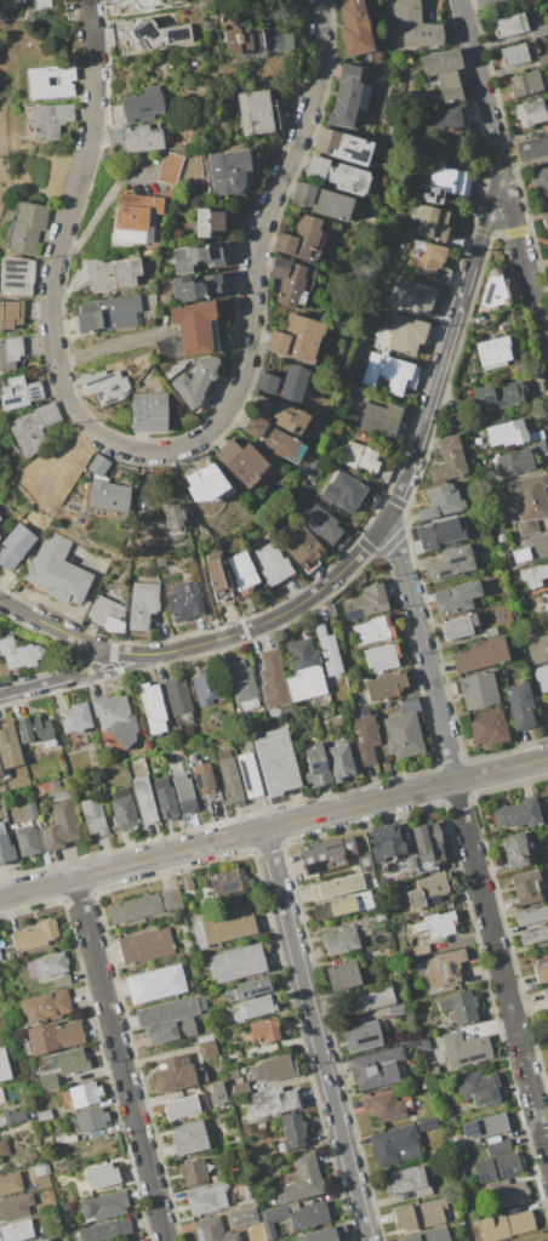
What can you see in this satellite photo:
building: (12, 1)
building: (41, 4)
building: (145, 5)
building: (228, 15)
building: (413, 25)
building: (510, 27)
building: (355, 28)
building: (540, 30)
building: (149, 35)
building: (281, 41)
building: (244, 42)
building: (519, 53)
building: (543, 58)
building: (445, 73)
building: (38, 81)
building: (527, 82)
building: (346, 97)
building: (142, 107)
building: (257, 113)
building: (531, 113)
building: (115, 115)
building: (438, 119)
building: (51, 120)
building: (114, 140)
building: (141, 140)
building: (343, 146)
road: (523, 150)
building: (170, 169)
building: (228, 172)
building: (338, 175)
road: (503, 177)
building: (450, 180)
building: (540, 181)
building: (430, 193)
building: (324, 201)
road: (97, 210)
building: (136, 217)
building: (546, 221)
building: (430, 222)
building: (209, 223)
building: (27, 228)
road: (500, 235)
building: (301, 238)
building: (204, 256)
building: (433, 263)
building: (112, 274)
building: (16, 275)
building: (295, 281)
building: (200, 288)
building: (496, 290)
building: (415, 298)
building: (11, 314)
building: (105, 314)
building: (190, 331)
building: (404, 334)
building: (297, 338)
road: (107, 347)
building: (16, 351)
building: (493, 353)
building: (520, 369)
building: (387, 371)
building: (196, 382)
building: (284, 383)
building: (104, 386)
building: (19, 393)
building: (500, 395)
building: (149, 412)
building: (282, 415)
building: (383, 420)
building: (456, 421)
building: (34, 427)
building: (508, 433)
building: (273, 438)
road: (153, 451)
building: (359, 457)
building: (449, 460)
building: (244, 462)
building: (515, 462)
building: (98, 466)
building: (204, 483)
building: (350, 493)
building: (108, 495)
building: (440, 502)
building: (529, 502)
building: (175, 518)
building: (324, 525)
building: (440, 533)
building: (501, 537)
road: (369, 541)
building: (532, 548)
building: (304, 550)
building: (13, 552)
building: (272, 563)
building: (450, 563)
building: (242, 570)
building: (57, 571)
building: (536, 576)
building: (219, 579)
building: (514, 596)
building: (456, 598)
building: (547, 598)
building: (184, 600)
building: (540, 600)
building: (366, 602)
building: (143, 604)
building: (547, 609)
building: (105, 610)
building: (458, 627)
road: (58, 628)
building: (373, 631)
building: (490, 632)
building: (537, 649)
building: (329, 651)
building: (18, 654)
building: (481, 655)
building: (382, 657)
building: (303, 671)
building: (542, 678)
building: (273, 681)
building: (244, 685)
building: (206, 687)
building: (384, 687)
building: (479, 690)
building: (178, 698)
building: (520, 705)
building: (153, 707)
building: (75, 718)
building: (115, 718)
building: (489, 727)
building: (36, 731)
building: (403, 735)
building: (365, 739)
building: (10, 745)
building: (276, 762)
building: (339, 762)
building: (316, 767)
building: (0, 772)
building: (6, 775)
building: (250, 775)
building: (230, 776)
building: (205, 785)
building: (108, 791)
building: (184, 793)
building: (166, 798)
building: (144, 799)
building: (124, 809)
building: (32, 810)
building: (518, 814)
building: (93, 816)
building: (61, 821)
road: (274, 830)
road: (468, 838)
building: (27, 841)
building: (428, 842)
building: (387, 844)
building: (6, 847)
building: (516, 850)
building: (325, 855)
building: (365, 863)
building: (410, 863)
building: (232, 881)
building: (187, 883)
building: (371, 883)
building: (337, 887)
building: (526, 888)
building: (428, 889)
building: (172, 899)
building: (339, 906)
building: (135, 909)
building: (379, 916)
building: (531, 916)
building: (436, 924)
building: (228, 926)
building: (35, 935)
building: (533, 937)
building: (339, 939)
building: (145, 946)
building: (421, 950)
building: (0, 957)
building: (236, 963)
building: (52, 964)
building: (444, 968)
building: (542, 969)
building: (342, 975)
building: (62, 981)
building: (155, 984)
building: (250, 989)
building: (546, 997)
building: (373, 1000)
building: (459, 1006)
building: (46, 1007)
building: (255, 1007)
building: (396, 1009)
building: (171, 1011)
building: (546, 1019)
building: (170, 1031)
building: (266, 1031)
building: (364, 1035)
building: (53, 1036)
road: (316, 1036)
building: (207, 1046)
building: (466, 1049)
road: (120, 1060)
building: (72, 1061)
building: (382, 1064)
building: (4, 1066)
building: (273, 1069)
building: (219, 1071)
building: (233, 1072)
building: (177, 1074)
building: (48, 1082)
building: (479, 1087)
building: (240, 1089)
building: (1, 1095)
building: (82, 1095)
building: (272, 1101)
building: (384, 1106)
building: (182, 1108)
building: (13, 1115)
building: (44, 1116)
building: (91, 1120)
building: (261, 1125)
building: (427, 1125)
building: (485, 1126)
building: (293, 1132)
building: (65, 1138)
building: (189, 1138)
building: (48, 1142)
building: (395, 1146)
building: (453, 1146)
building: (4, 1148)
building: (33, 1157)
building: (498, 1162)
building: (40, 1169)
building: (194, 1173)
building: (101, 1175)
building: (303, 1178)
building: (407, 1182)
building: (12, 1183)
building: (249, 1192)
building: (510, 1192)
building: (207, 1197)
building: (51, 1205)
building: (15, 1206)
building: (103, 1206)
building: (251, 1213)
building: (421, 1216)
building: (295, 1217)
building: (507, 1225)
building: (18, 1230)
building: (105, 1230)
building: (213, 1230)
building: (326, 1234)
building: (429, 1235)
building: (44, 1240)
building: (537, 1240)

